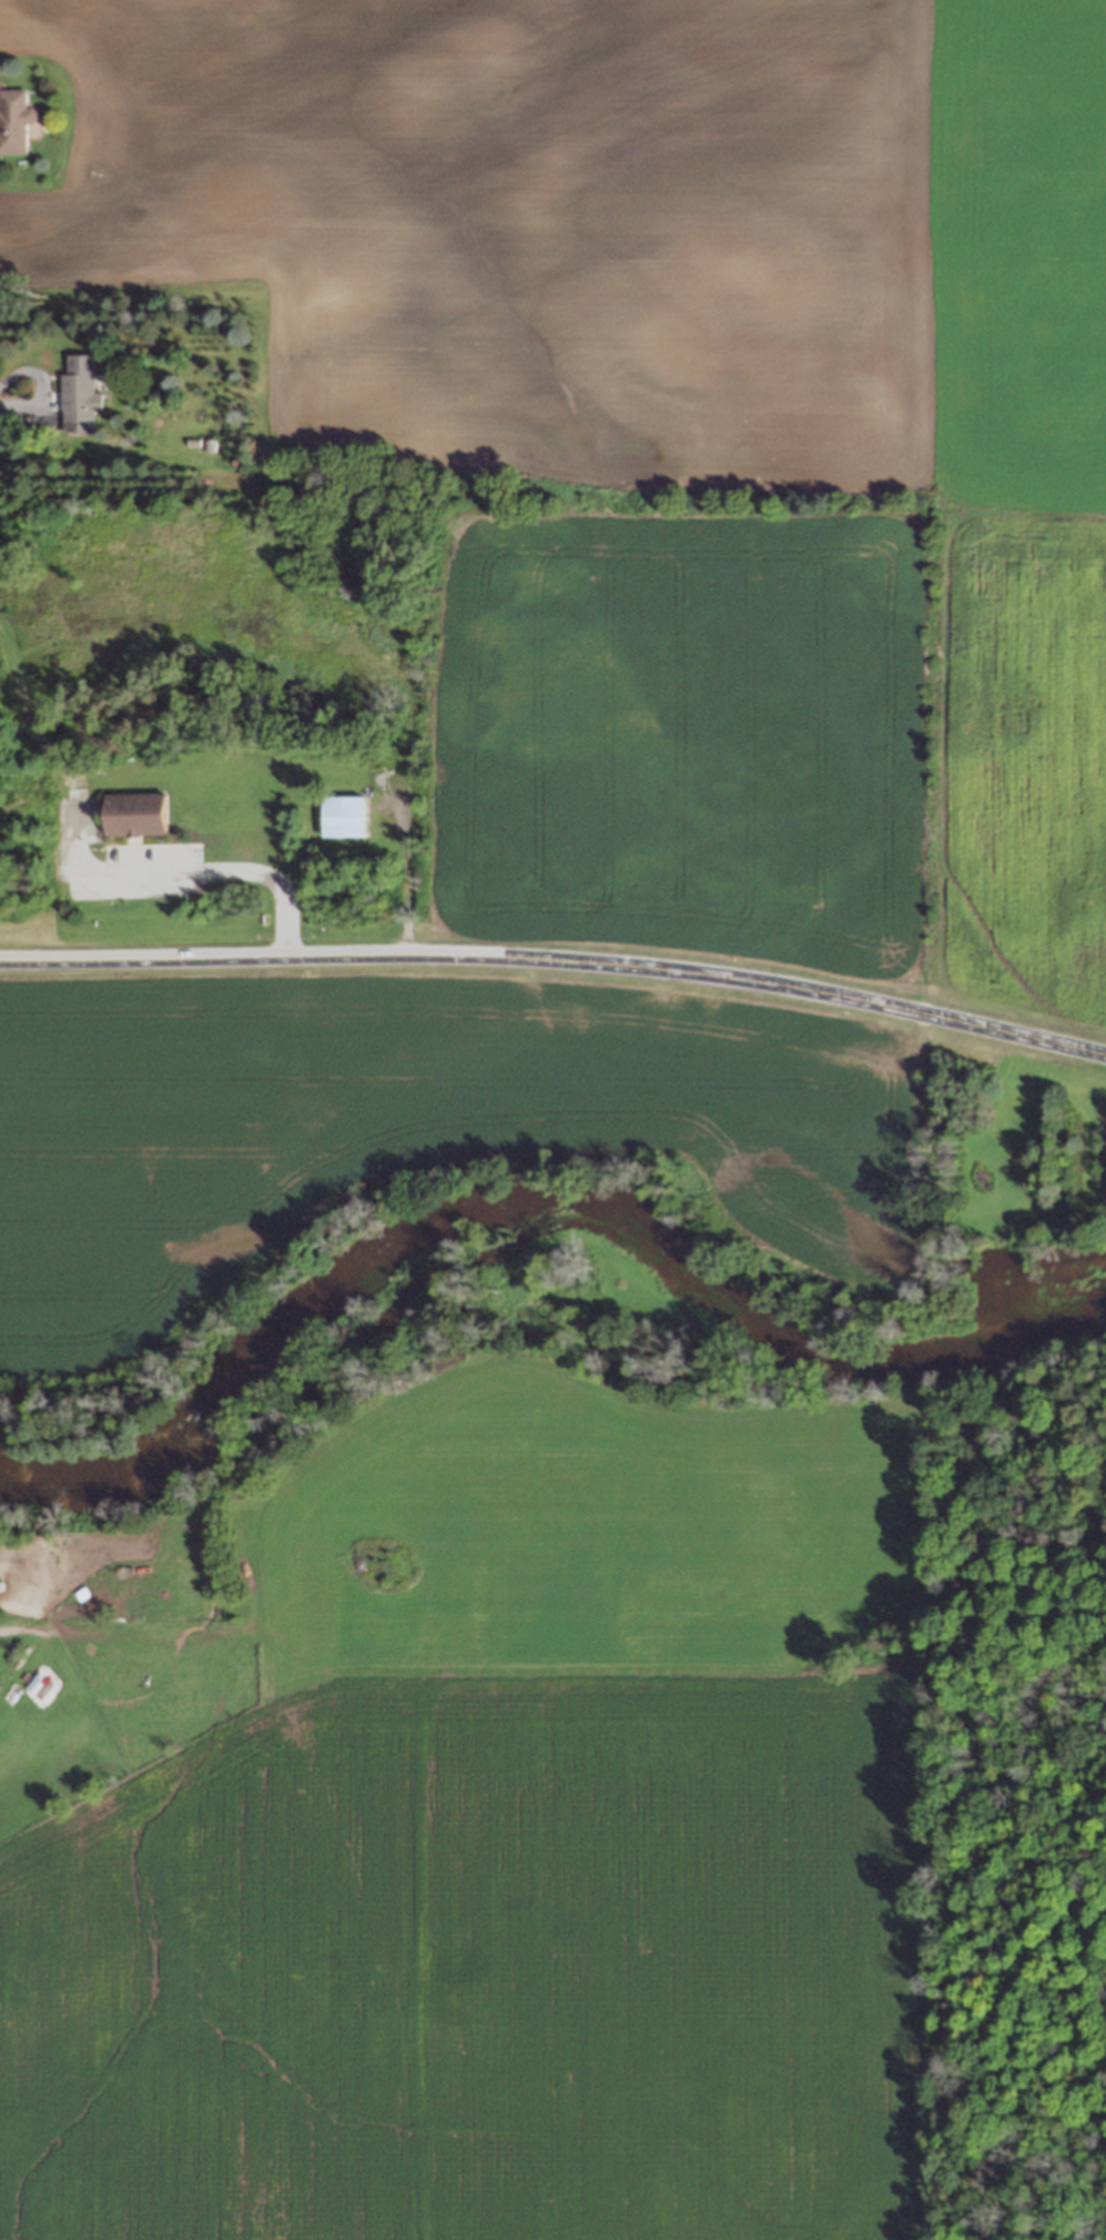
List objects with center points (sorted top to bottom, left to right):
building: (16, 121)
building: (79, 393)
building: (131, 815)
building: (339, 815)
road: (85, 868)
road: (557, 959)
river: (544, 1200)
building: (101, 1582)

